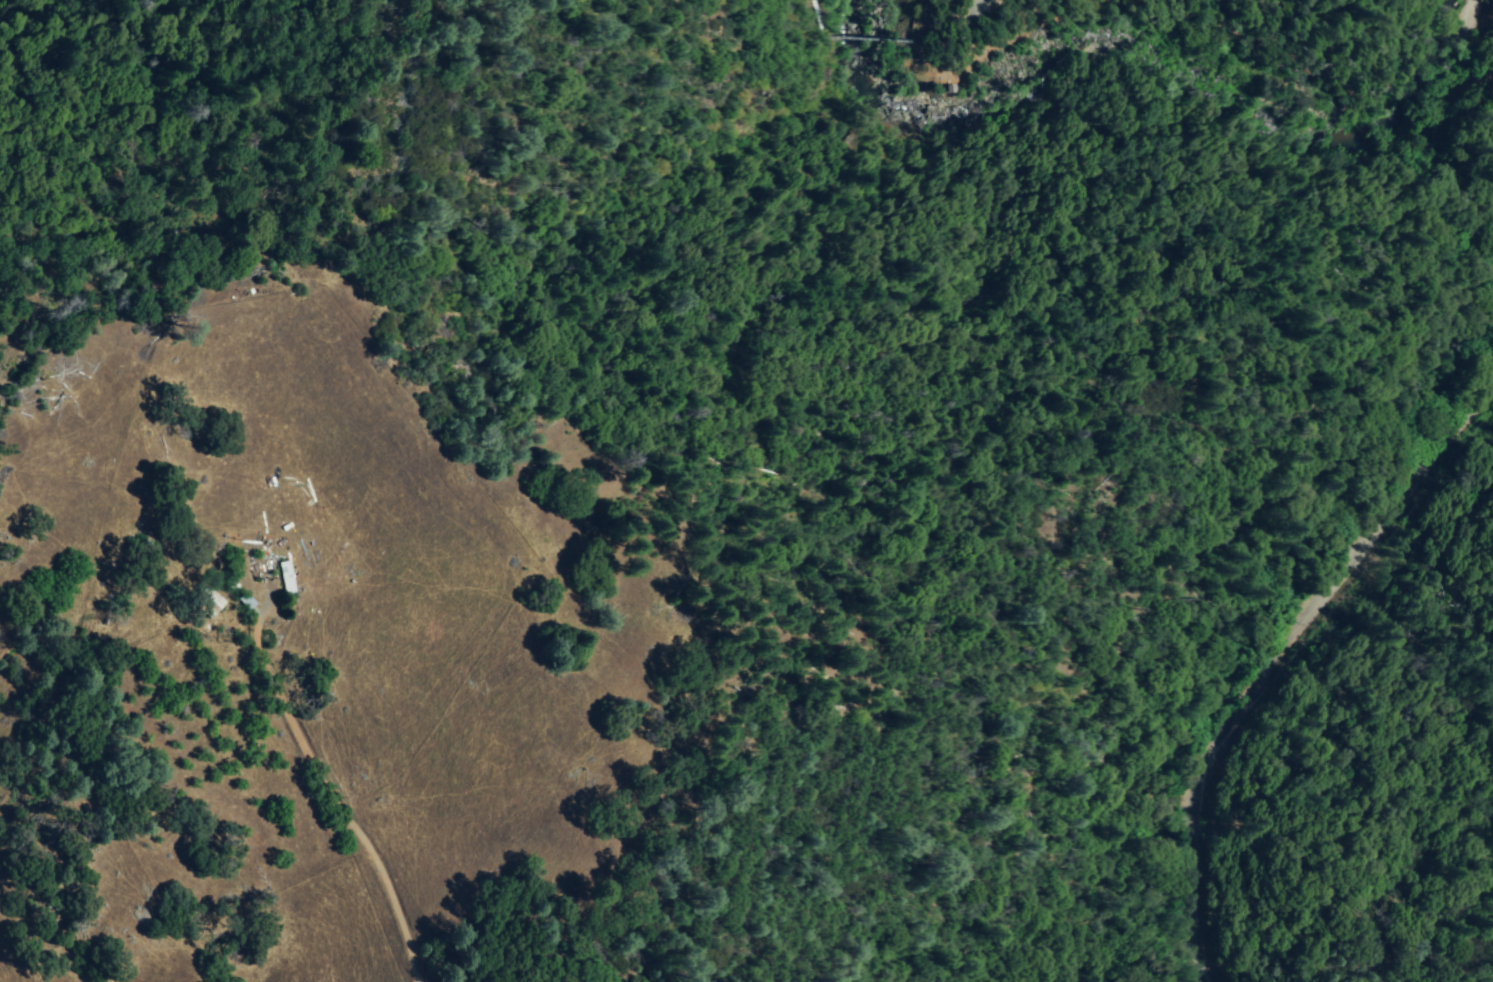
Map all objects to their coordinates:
road: (982, 5)
river: (1160, 95)
building: (244, 601)
building: (208, 603)
road: (1275, 662)
road: (333, 793)

